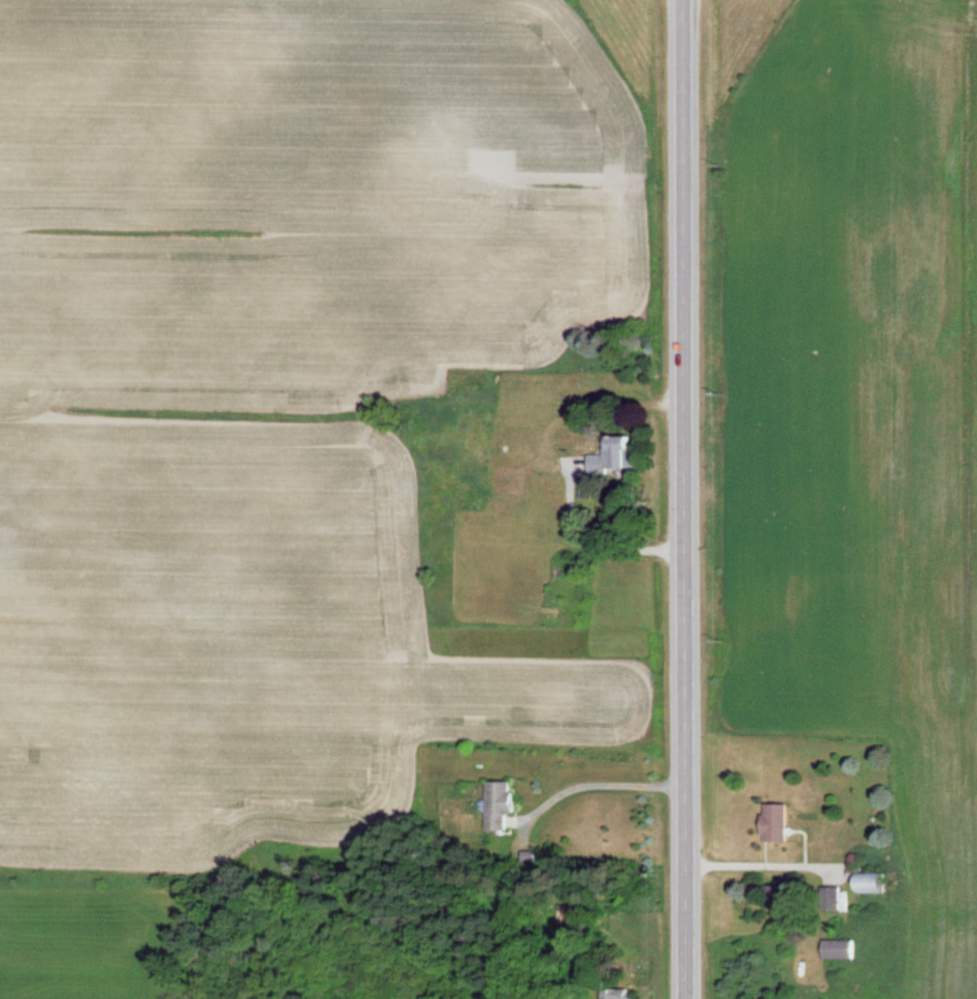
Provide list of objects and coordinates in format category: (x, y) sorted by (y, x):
building: (619, 455)
road: (688, 499)
building: (504, 804)
building: (781, 821)
building: (878, 881)
building: (841, 948)
building: (619, 995)

